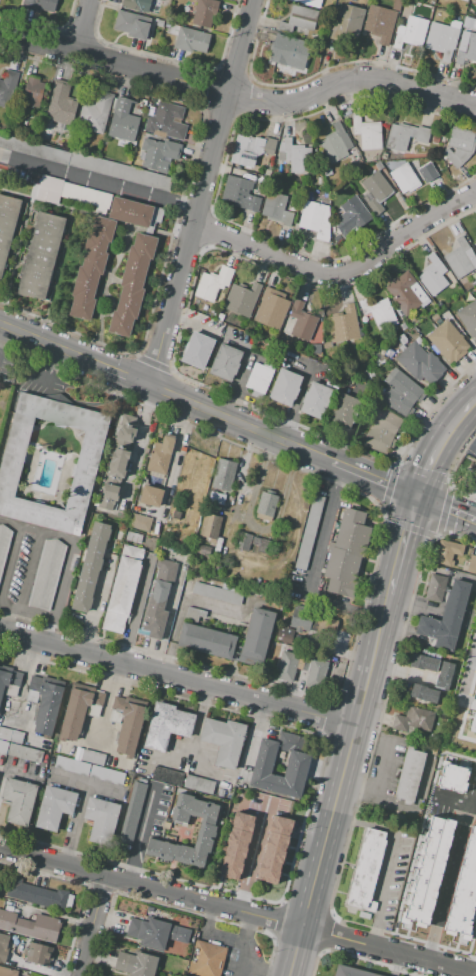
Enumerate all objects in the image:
building: (465, 0)
building: (473, 1)
building: (308, 2)
building: (132, 4)
building: (396, 4)
building: (39, 5)
building: (468, 11)
building: (203, 12)
building: (299, 21)
building: (159, 23)
building: (346, 23)
building: (132, 24)
building: (379, 24)
building: (468, 24)
road: (82, 25)
building: (167, 27)
building: (173, 30)
building: (409, 33)
building: (443, 38)
building: (190, 46)
building: (466, 48)
building: (290, 54)
building: (7, 87)
building: (33, 91)
road: (237, 94)
building: (61, 104)
building: (95, 111)
building: (123, 121)
building: (166, 121)
building: (367, 132)
building: (405, 135)
building: (435, 139)
building: (336, 144)
building: (459, 145)
building: (252, 151)
building: (158, 154)
building: (295, 156)
building: (85, 162)
building: (359, 162)
building: (379, 165)
building: (267, 172)
building: (327, 172)
building: (412, 176)
road: (97, 180)
building: (319, 180)
building: (48, 188)
building: (375, 190)
road: (199, 193)
building: (84, 194)
building: (239, 194)
building: (309, 195)
building: (276, 208)
building: (129, 211)
road: (93, 214)
building: (348, 218)
building: (313, 220)
building: (6, 222)
road: (19, 241)
building: (475, 244)
building: (39, 256)
building: (459, 259)
building: (89, 266)
road: (341, 272)
road: (55, 274)
building: (432, 275)
building: (130, 283)
building: (213, 283)
building: (466, 286)
road: (100, 290)
building: (405, 293)
building: (241, 299)
building: (439, 303)
building: (271, 308)
building: (379, 312)
building: (214, 313)
building: (220, 317)
building: (435, 318)
building: (468, 318)
road: (191, 322)
building: (301, 322)
building: (343, 324)
building: (403, 326)
road: (0, 327)
building: (401, 340)
building: (446, 342)
road: (51, 346)
building: (197, 350)
building: (224, 362)
building: (420, 364)
road: (242, 368)
road: (310, 369)
building: (369, 374)
road: (126, 376)
building: (257, 379)
building: (284, 387)
building: (400, 393)
building: (315, 400)
road: (295, 404)
building: (343, 412)
road: (239, 423)
building: (382, 431)
building: (125, 434)
road: (136, 440)
road: (439, 445)
building: (15, 448)
building: (160, 455)
building: (118, 463)
road: (240, 474)
building: (473, 474)
building: (224, 475)
road: (373, 479)
building: (109, 492)
building: (150, 496)
building: (216, 498)
traffic signals: (417, 498)
building: (267, 505)
road: (446, 508)
building: (140, 522)
building: (210, 526)
building: (308, 532)
building: (133, 538)
building: (243, 541)
building: (4, 542)
building: (259, 543)
road: (404, 547)
building: (202, 550)
building: (447, 552)
building: (346, 553)
road: (72, 555)
road: (9, 558)
building: (471, 565)
road: (422, 566)
building: (91, 567)
building: (215, 570)
road: (313, 570)
road: (27, 574)
building: (46, 574)
road: (410, 578)
road: (422, 587)
building: (434, 587)
building: (122, 590)
building: (217, 593)
road: (101, 595)
building: (159, 598)
road: (198, 603)
road: (3, 604)
road: (414, 604)
building: (194, 614)
building: (444, 617)
road: (3, 618)
building: (301, 620)
road: (164, 633)
building: (257, 634)
building: (283, 637)
building: (206, 639)
building: (422, 662)
building: (301, 669)
road: (402, 672)
road: (467, 673)
building: (442, 675)
road: (179, 676)
building: (9, 678)
building: (422, 693)
building: (46, 701)
building: (78, 709)
road: (463, 710)
building: (473, 712)
building: (412, 719)
building: (129, 722)
building: (166, 725)
building: (11, 735)
building: (223, 740)
building: (2, 746)
building: (24, 753)
building: (92, 757)
building: (71, 765)
building: (296, 765)
building: (107, 774)
building: (166, 775)
building: (408, 776)
building: (451, 777)
road: (379, 782)
building: (198, 784)
road: (341, 786)
building: (475, 795)
building: (18, 801)
road: (414, 805)
road: (451, 805)
building: (54, 806)
building: (131, 812)
building: (101, 819)
building: (206, 832)
road: (418, 833)
road: (140, 834)
building: (236, 846)
building: (274, 849)
road: (253, 855)
road: (390, 856)
road: (450, 862)
building: (365, 870)
building: (426, 871)
building: (463, 891)
building: (36, 895)
road: (238, 908)
building: (362, 914)
road: (92, 925)
building: (30, 926)
road: (248, 929)
building: (155, 933)
road: (235, 943)
building: (3, 945)
road: (471, 949)
building: (39, 954)
building: (6, 957)
building: (206, 959)
road: (395, 963)
building: (135, 964)
road: (246, 971)
building: (350, 971)
building: (7, 972)
road: (465, 972)
road: (475, 974)

